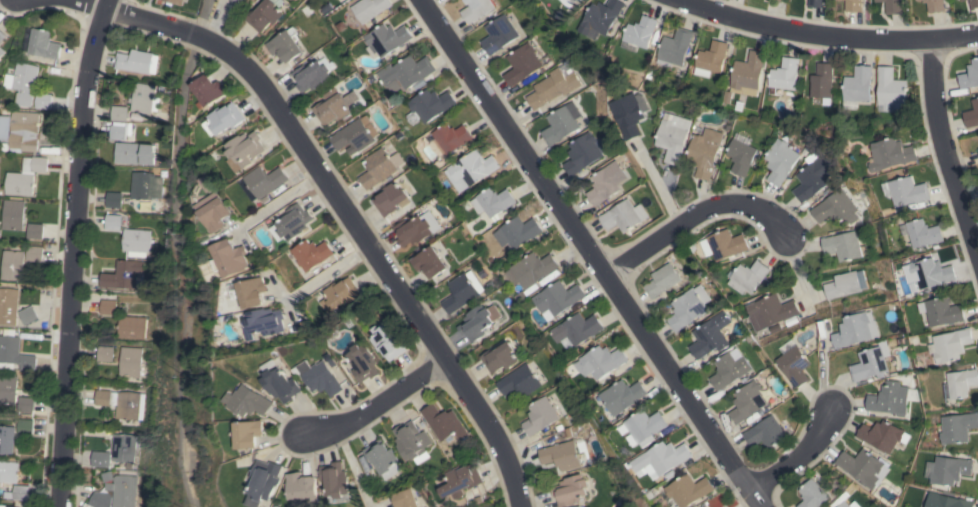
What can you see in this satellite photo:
building: (166, 0)
building: (778, 0)
building: (918, 0)
building: (958, 0)
building: (235, 1)
building: (239, 1)
building: (573, 1)
building: (817, 3)
building: (974, 4)
building: (854, 5)
building: (935, 5)
building: (893, 6)
building: (370, 8)
building: (476, 9)
building: (264, 15)
building: (600, 17)
road: (152, 26)
road: (826, 30)
building: (639, 33)
building: (498, 34)
building: (2, 35)
building: (387, 38)
building: (41, 43)
building: (286, 45)
building: (674, 47)
building: (2, 52)
building: (712, 57)
building: (134, 61)
building: (522, 63)
building: (406, 73)
building: (784, 73)
building: (747, 75)
building: (969, 75)
building: (311, 76)
building: (821, 81)
building: (24, 82)
building: (554, 86)
building: (857, 87)
building: (890, 89)
building: (207, 90)
building: (144, 98)
building: (44, 101)
building: (431, 104)
building: (332, 106)
building: (119, 113)
building: (631, 113)
building: (971, 115)
building: (223, 119)
building: (561, 123)
building: (118, 130)
building: (26, 131)
building: (355, 135)
building: (674, 136)
building: (451, 137)
building: (977, 149)
building: (243, 150)
building: (705, 152)
building: (135, 153)
building: (582, 153)
road: (944, 153)
building: (892, 154)
building: (741, 156)
building: (780, 161)
building: (379, 167)
building: (470, 170)
building: (27, 176)
building: (813, 177)
building: (265, 181)
building: (605, 183)
building: (146, 185)
road: (659, 186)
building: (906, 191)
building: (391, 198)
building: (114, 200)
road: (277, 201)
building: (492, 202)
building: (836, 209)
building: (214, 211)
building: (14, 214)
building: (623, 216)
road: (692, 217)
building: (113, 222)
building: (293, 222)
building: (36, 231)
building: (412, 231)
building: (519, 231)
building: (924, 233)
building: (136, 242)
building: (724, 244)
building: (842, 245)
road: (71, 251)
building: (35, 253)
building: (311, 253)
road: (588, 254)
building: (230, 258)
building: (430, 262)
building: (14, 265)
road: (794, 266)
building: (530, 269)
road: (327, 273)
road: (387, 274)
building: (928, 274)
building: (122, 275)
building: (747, 276)
building: (662, 280)
building: (842, 285)
building: (251, 291)
building: (460, 293)
building: (339, 294)
building: (558, 297)
building: (9, 306)
building: (107, 307)
building: (688, 307)
building: (769, 311)
building: (942, 311)
building: (29, 315)
building: (263, 322)
building: (478, 322)
building: (131, 327)
building: (576, 329)
building: (856, 329)
building: (710, 336)
building: (387, 342)
building: (950, 345)
building: (104, 353)
building: (14, 354)
building: (499, 357)
building: (601, 361)
building: (129, 362)
building: (363, 362)
building: (794, 363)
building: (870, 363)
building: (729, 368)
building: (320, 378)
building: (519, 381)
building: (280, 382)
building: (961, 382)
building: (8, 389)
building: (623, 396)
building: (889, 399)
building: (251, 402)
road: (378, 402)
building: (747, 402)
building: (121, 403)
building: (26, 404)
building: (540, 415)
building: (444, 423)
building: (643, 427)
building: (957, 427)
building: (14, 433)
building: (765, 433)
building: (250, 434)
building: (881, 435)
building: (411, 440)
building: (123, 447)
building: (561, 455)
road: (795, 456)
building: (383, 458)
building: (663, 458)
building: (100, 459)
building: (864, 468)
building: (947, 470)
building: (8, 471)
building: (337, 479)
building: (462, 480)
building: (269, 481)
building: (119, 488)
building: (305, 488)
building: (570, 490)
building: (689, 490)
building: (813, 492)
building: (18, 493)
building: (408, 498)
building: (99, 499)
building: (947, 501)
building: (848, 504)
building: (5, 506)

